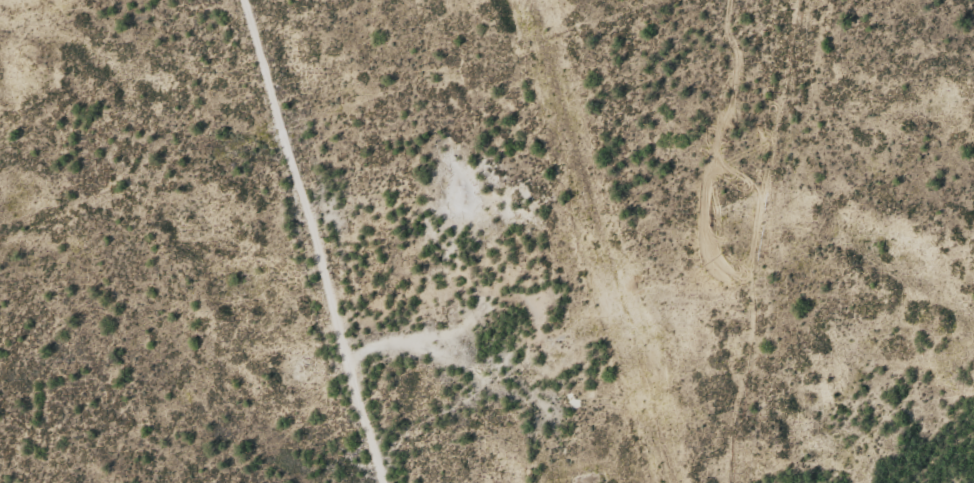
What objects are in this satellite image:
road: (306, 238)
road: (477, 385)

